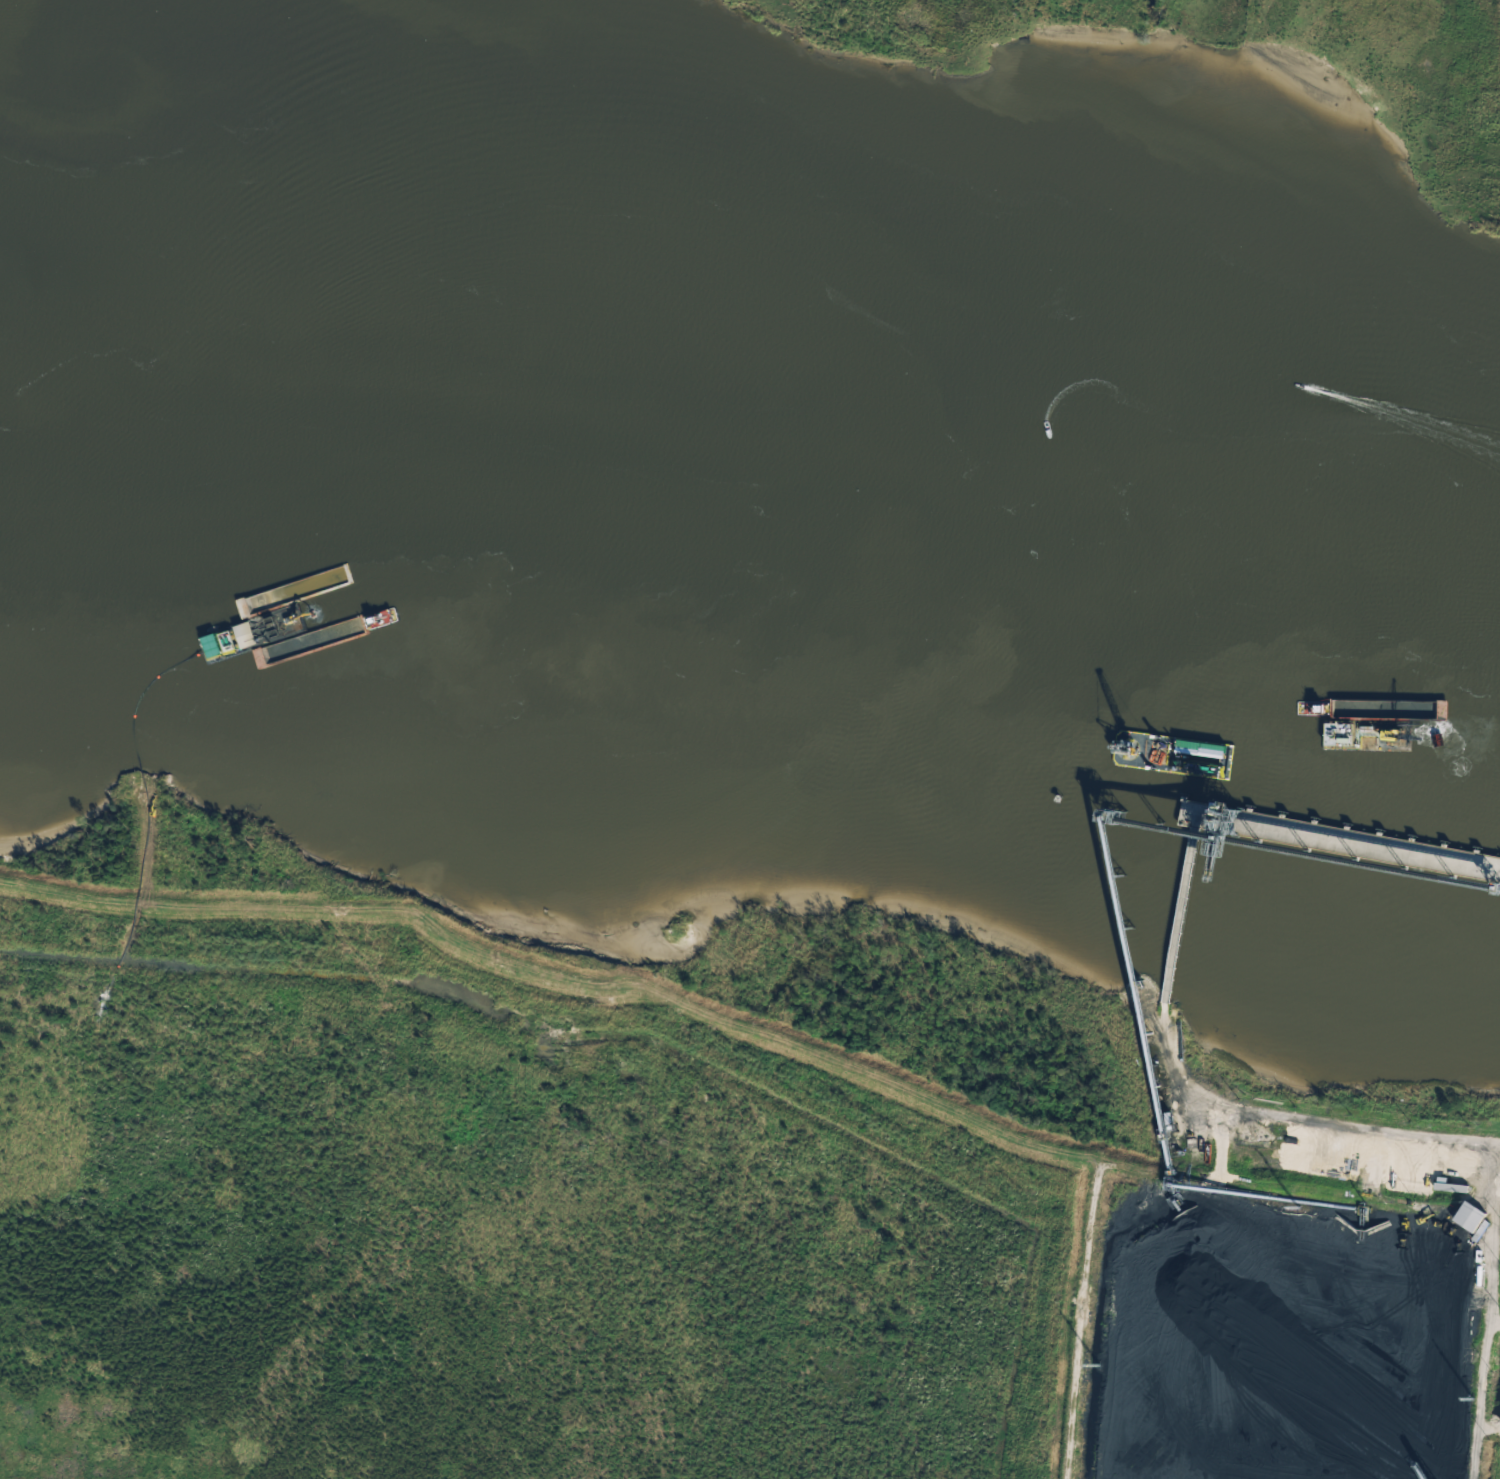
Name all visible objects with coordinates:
river: (750, 493)
building: (1471, 1217)

